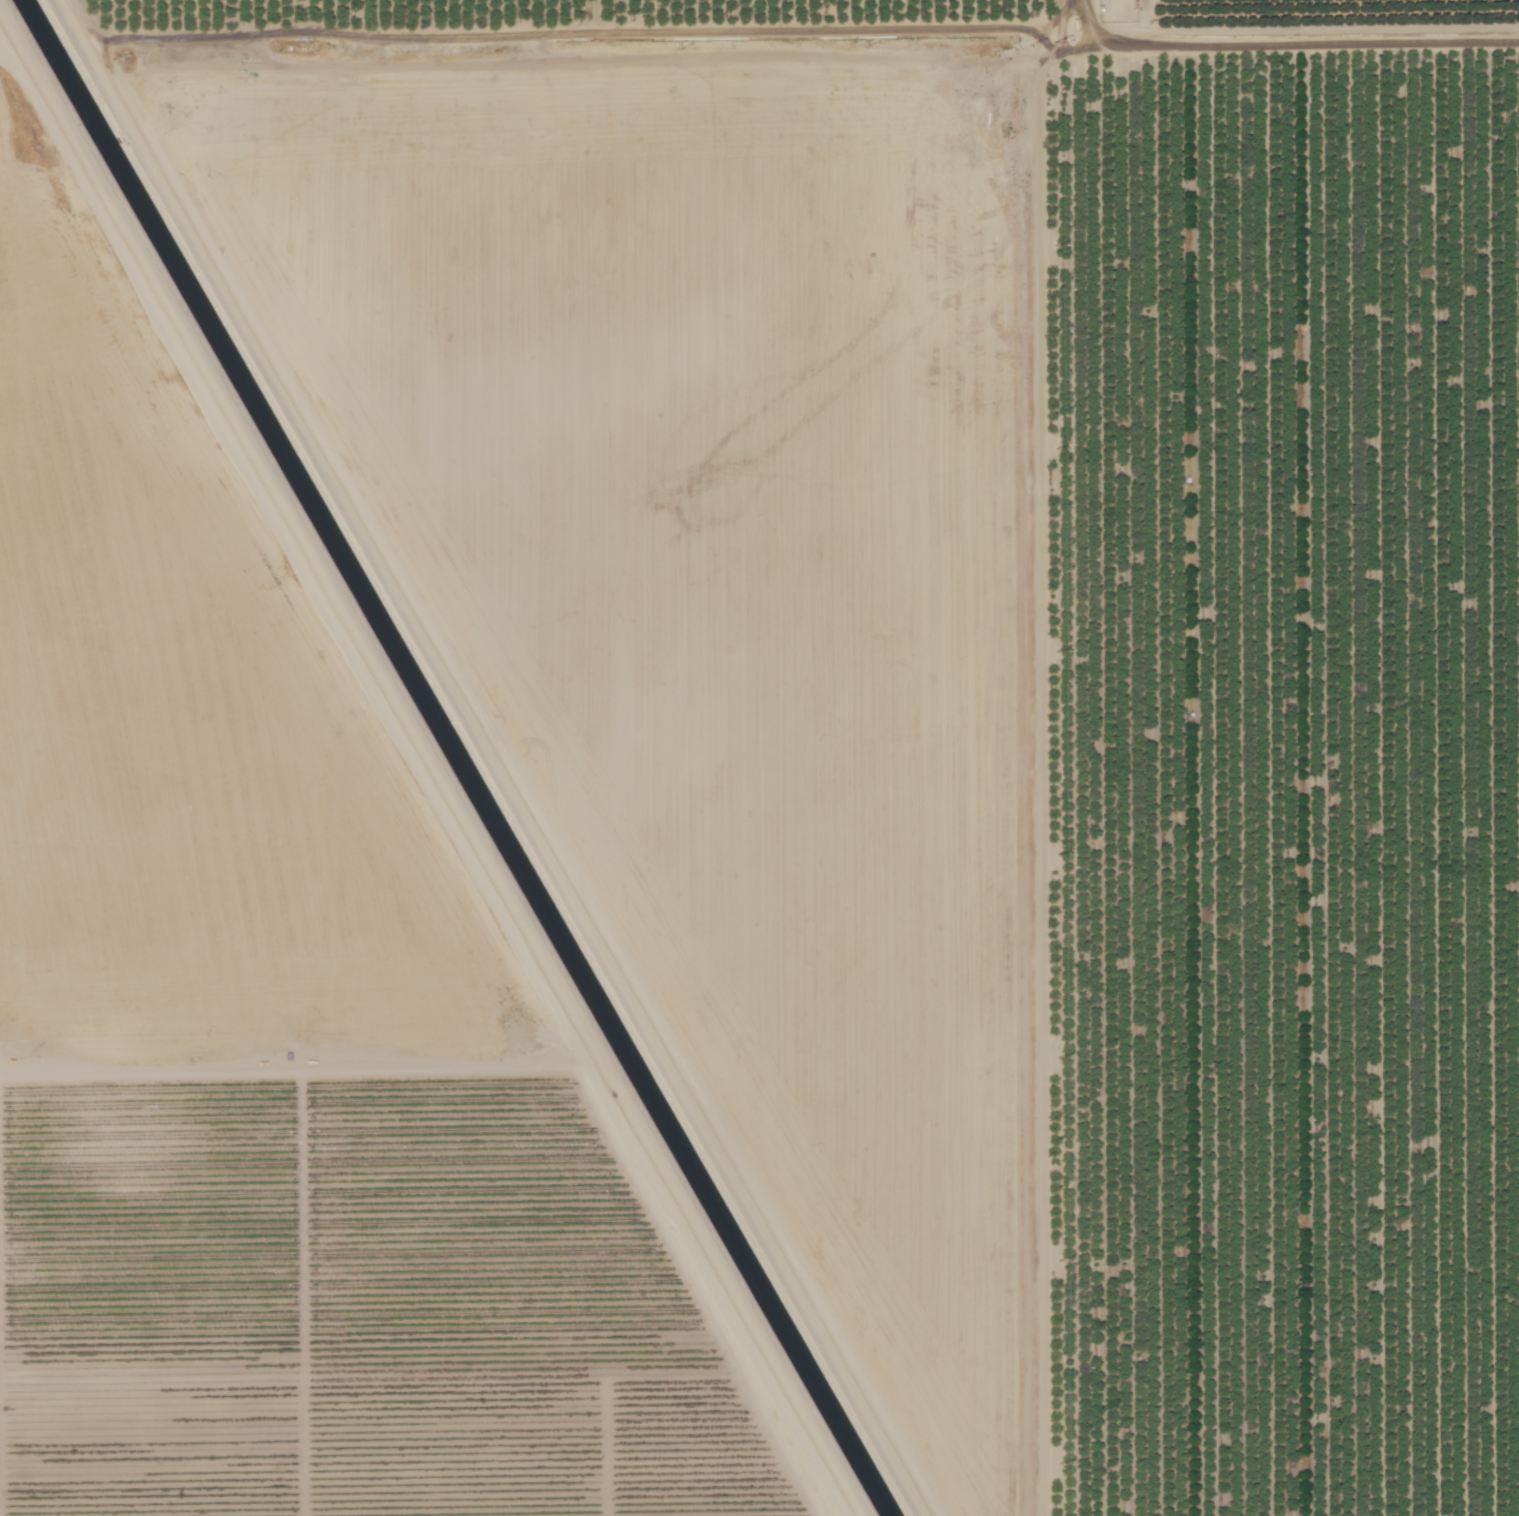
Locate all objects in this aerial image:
road: (1308, 64)
road: (603, 66)
road: (29, 90)
road: (1074, 757)

